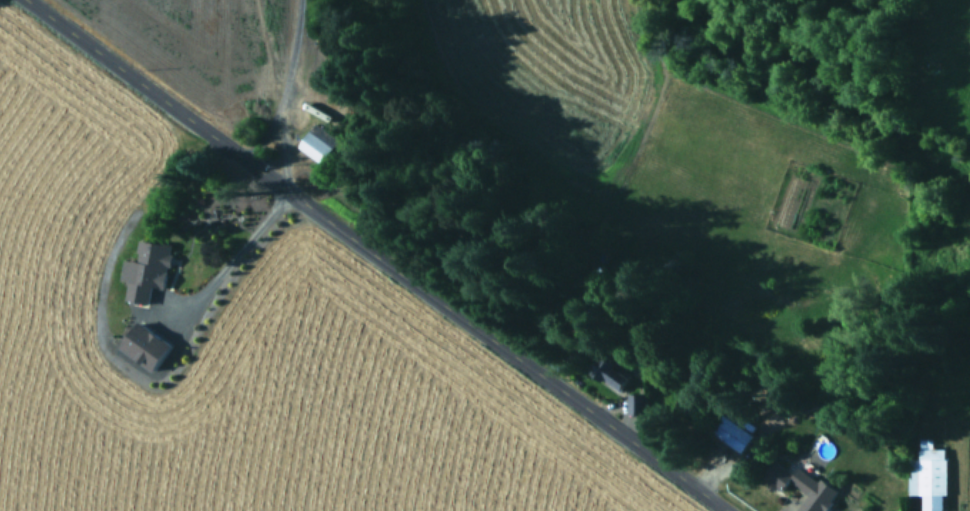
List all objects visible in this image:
crop: (932, 19)
crop: (235, 67)
road: (283, 83)
building: (317, 144)
crop: (670, 145)
building: (199, 229)
road: (377, 256)
road: (224, 266)
building: (146, 270)
building: (145, 345)
crop: (303, 360)
building: (614, 372)
building: (639, 402)
building: (731, 433)
building: (789, 478)
building: (928, 480)

